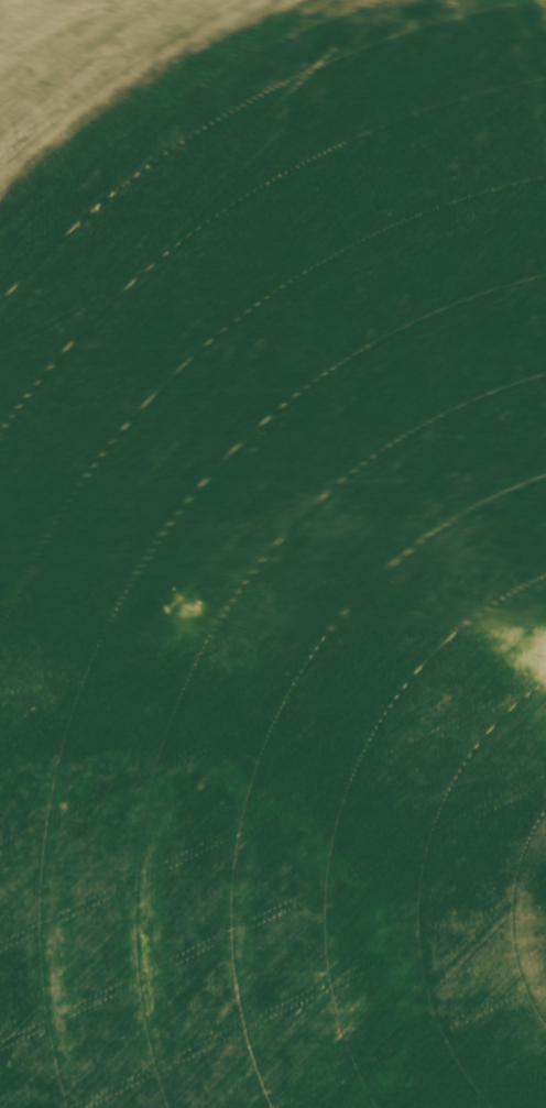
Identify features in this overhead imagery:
crop: (273, 553)

